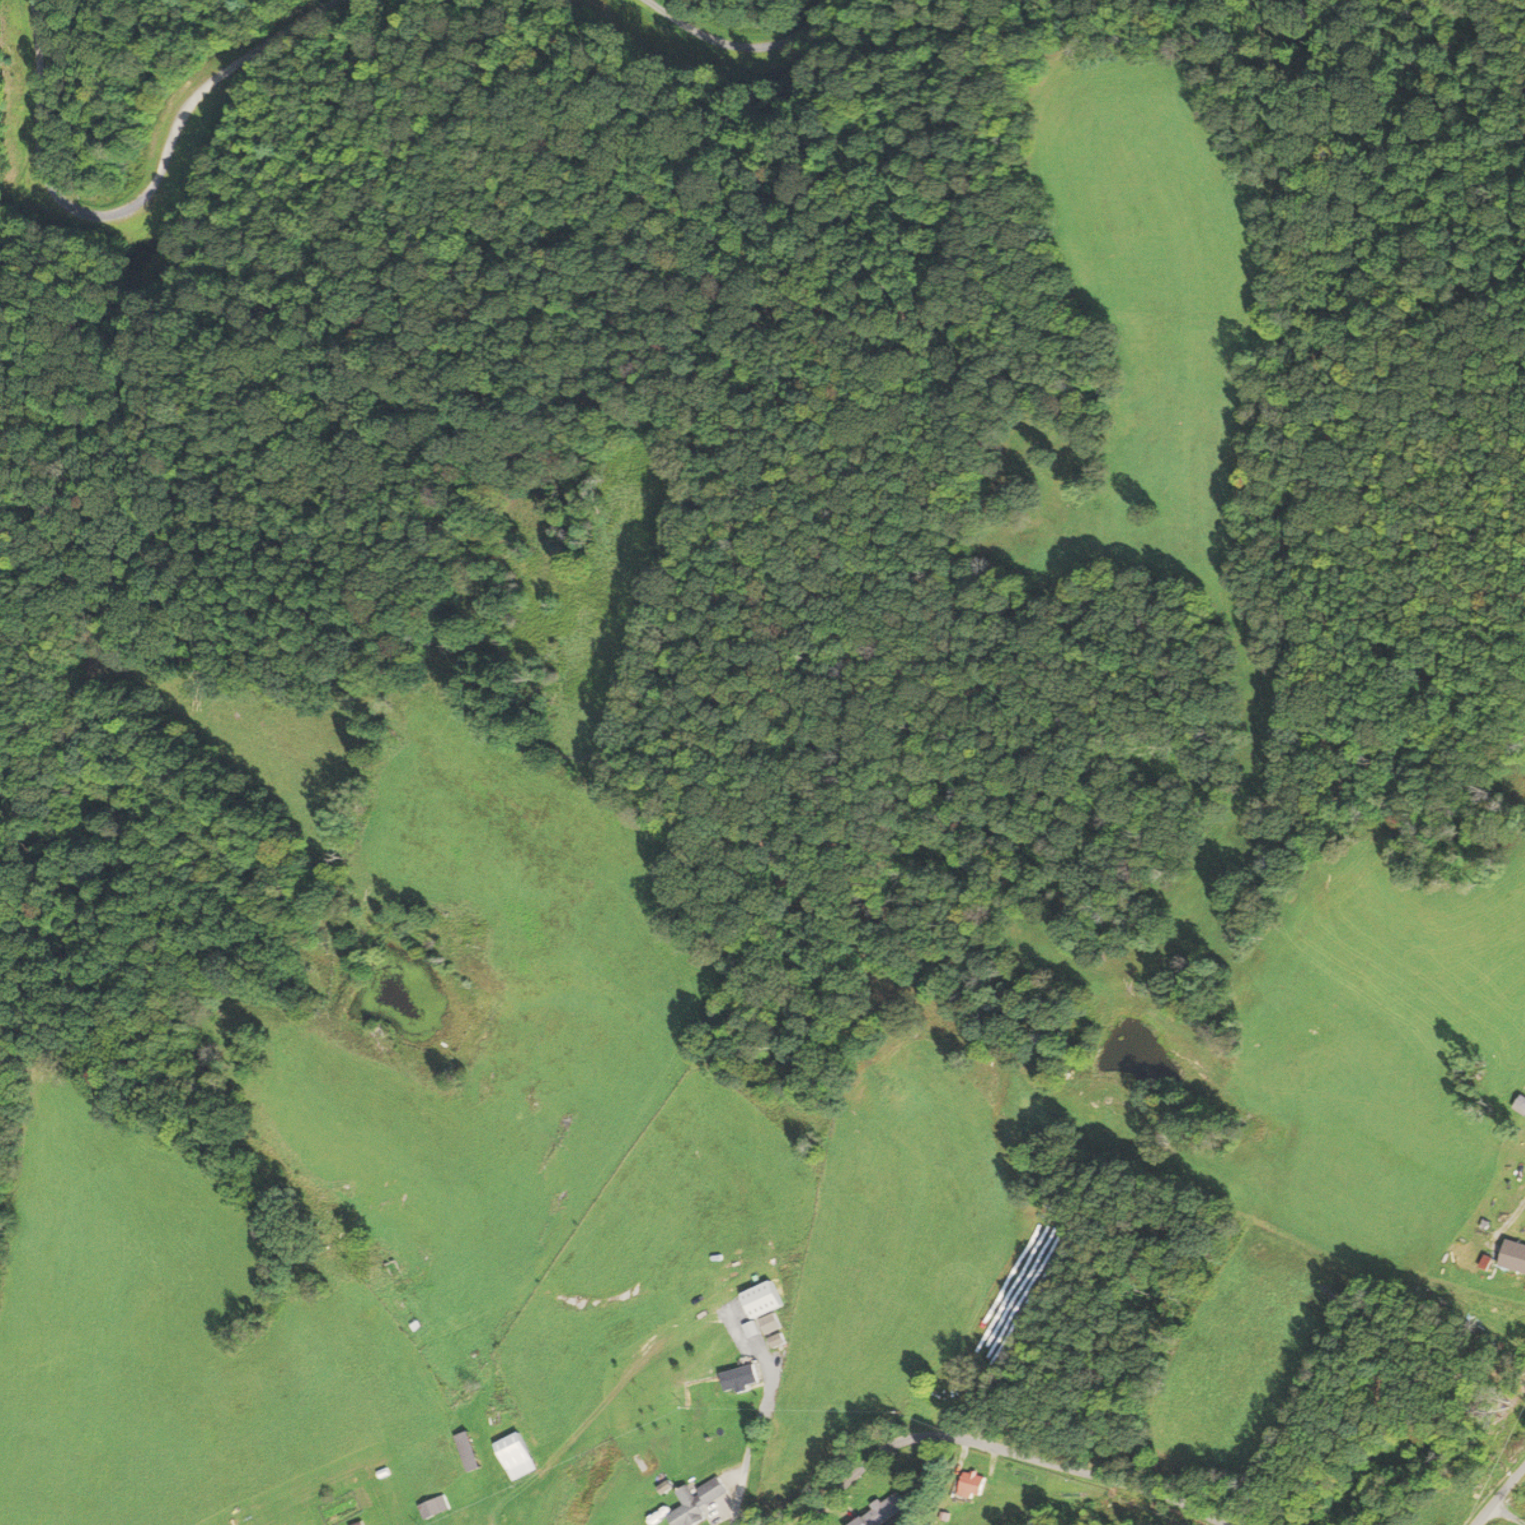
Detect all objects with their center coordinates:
road: (738, 48)
road: (135, 200)
building: (1514, 1257)
building: (742, 1377)
building: (496, 1422)
road: (1005, 1453)
building: (517, 1455)
building: (470, 1456)
building: (974, 1484)
building: (713, 1490)
road: (1502, 1497)
building: (435, 1507)
building: (688, 1507)
building: (883, 1511)
road: (1510, 1514)

